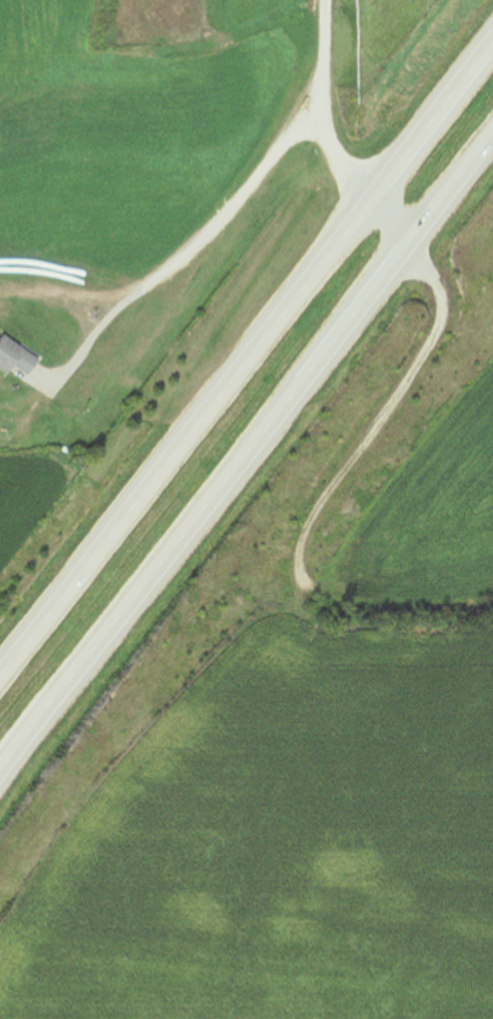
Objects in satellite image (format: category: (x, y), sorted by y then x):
road: (321, 107)
road: (388, 225)
road: (189, 256)
building: (16, 357)
road: (246, 362)
road: (383, 419)
road: (245, 459)

